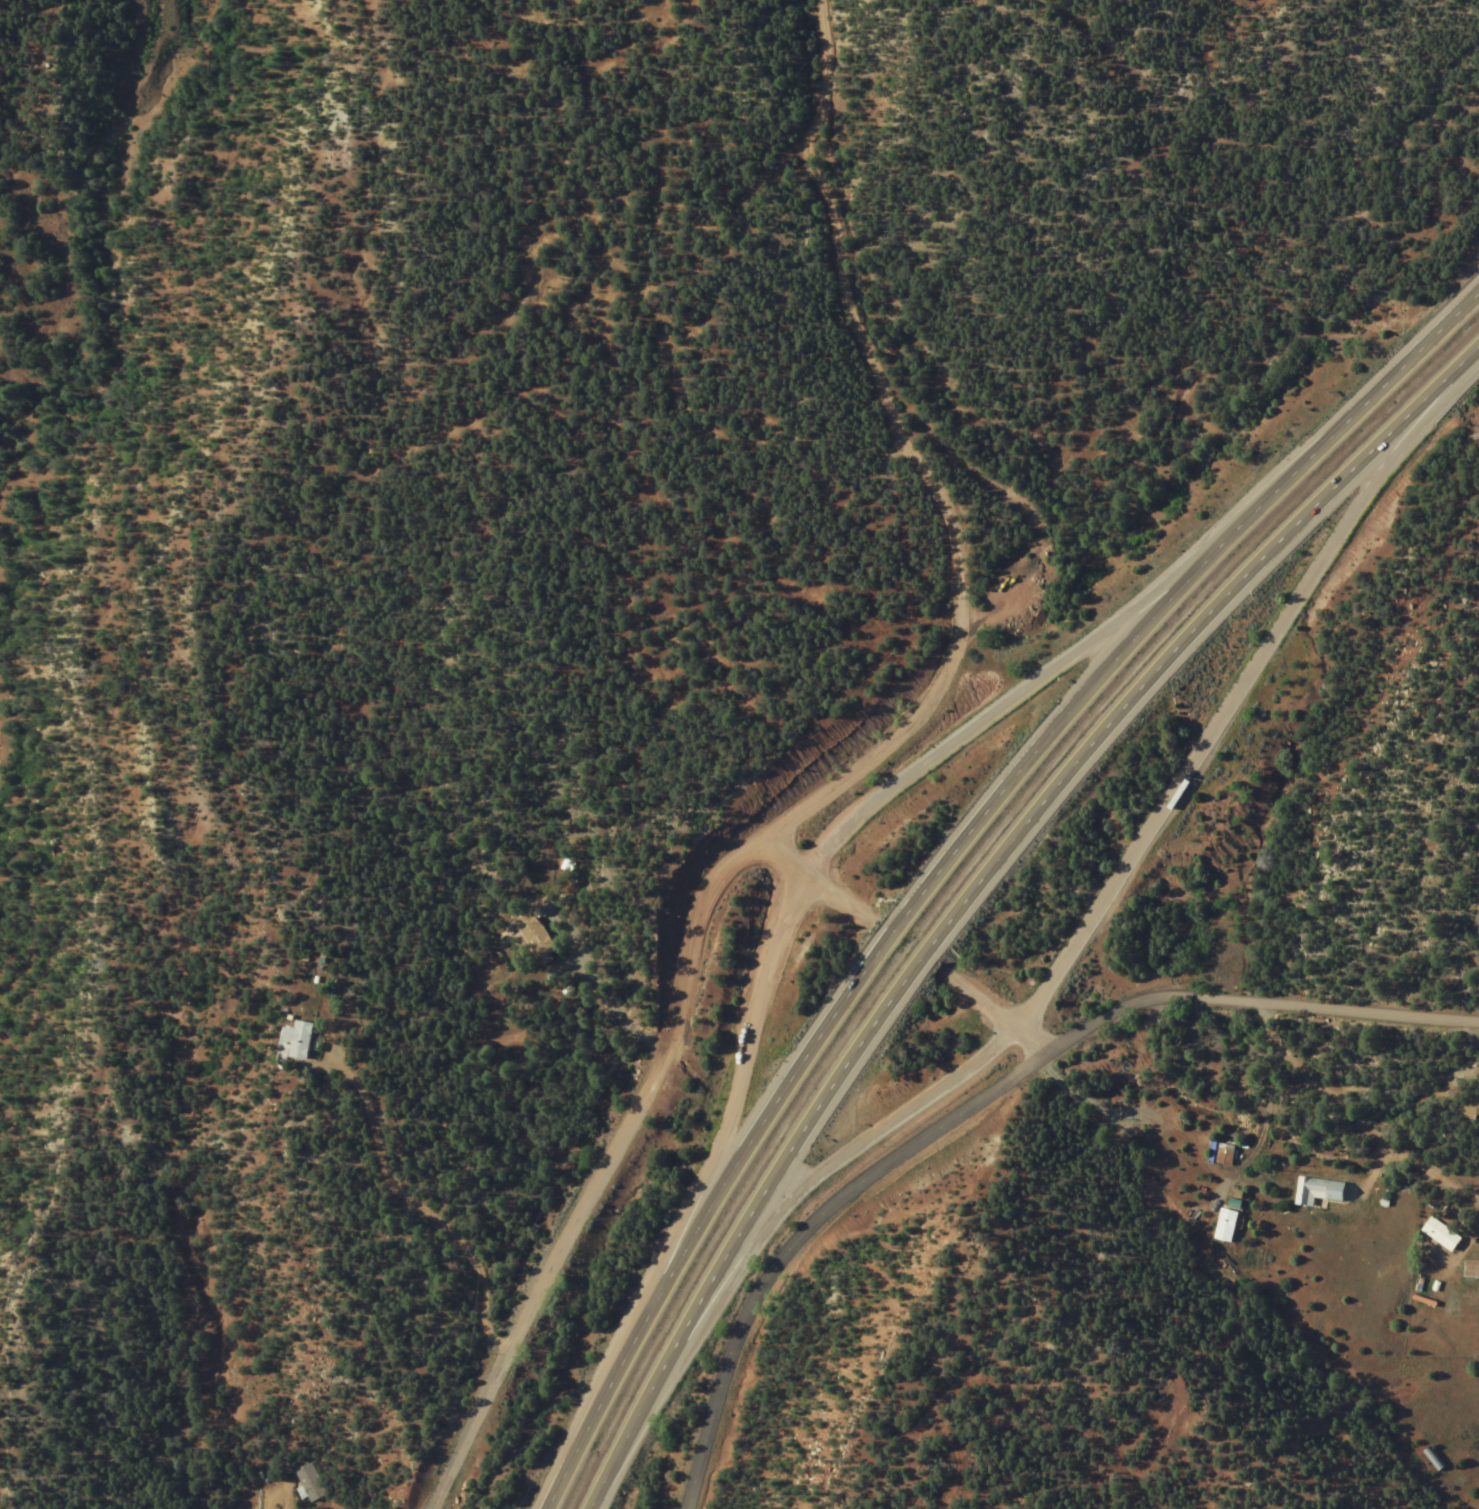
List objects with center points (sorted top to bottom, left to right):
road: (1018, 702)
road: (1223, 712)
road: (835, 780)
road: (950, 852)
road: (812, 882)
road: (978, 883)
building: (532, 934)
road: (1254, 1002)
road: (986, 1012)
building: (296, 1039)
road: (731, 1084)
building: (1469, 1107)
road: (1344, 1116)
road: (863, 1131)
building: (1316, 1191)
road: (409, 1204)
road: (791, 1227)
building: (1439, 1234)
building: (1431, 1459)
building: (309, 1482)
road: (265, 1496)

